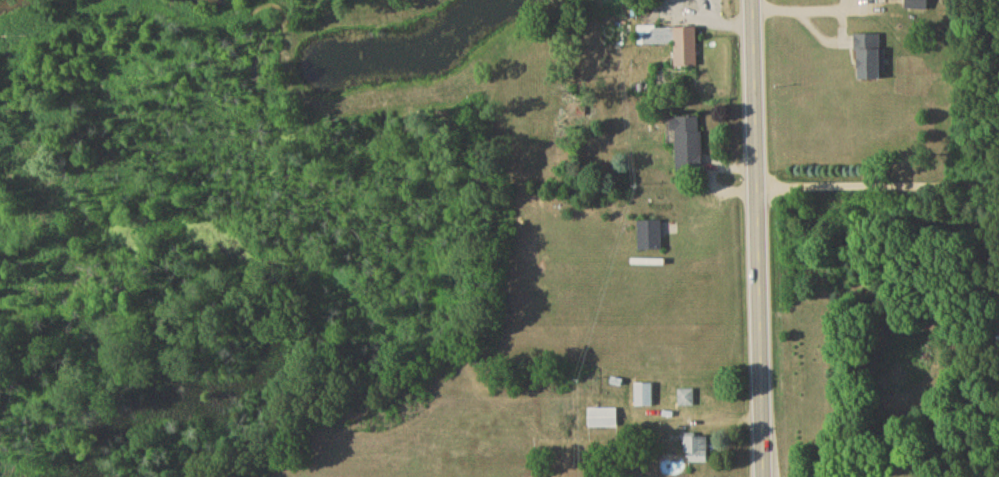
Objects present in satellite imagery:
road: (810, 5)
building: (918, 6)
road: (723, 23)
building: (673, 44)
building: (869, 58)
building: (689, 146)
road: (878, 190)
building: (650, 237)
road: (759, 238)
building: (644, 397)
building: (686, 400)
building: (603, 420)
building: (698, 451)

